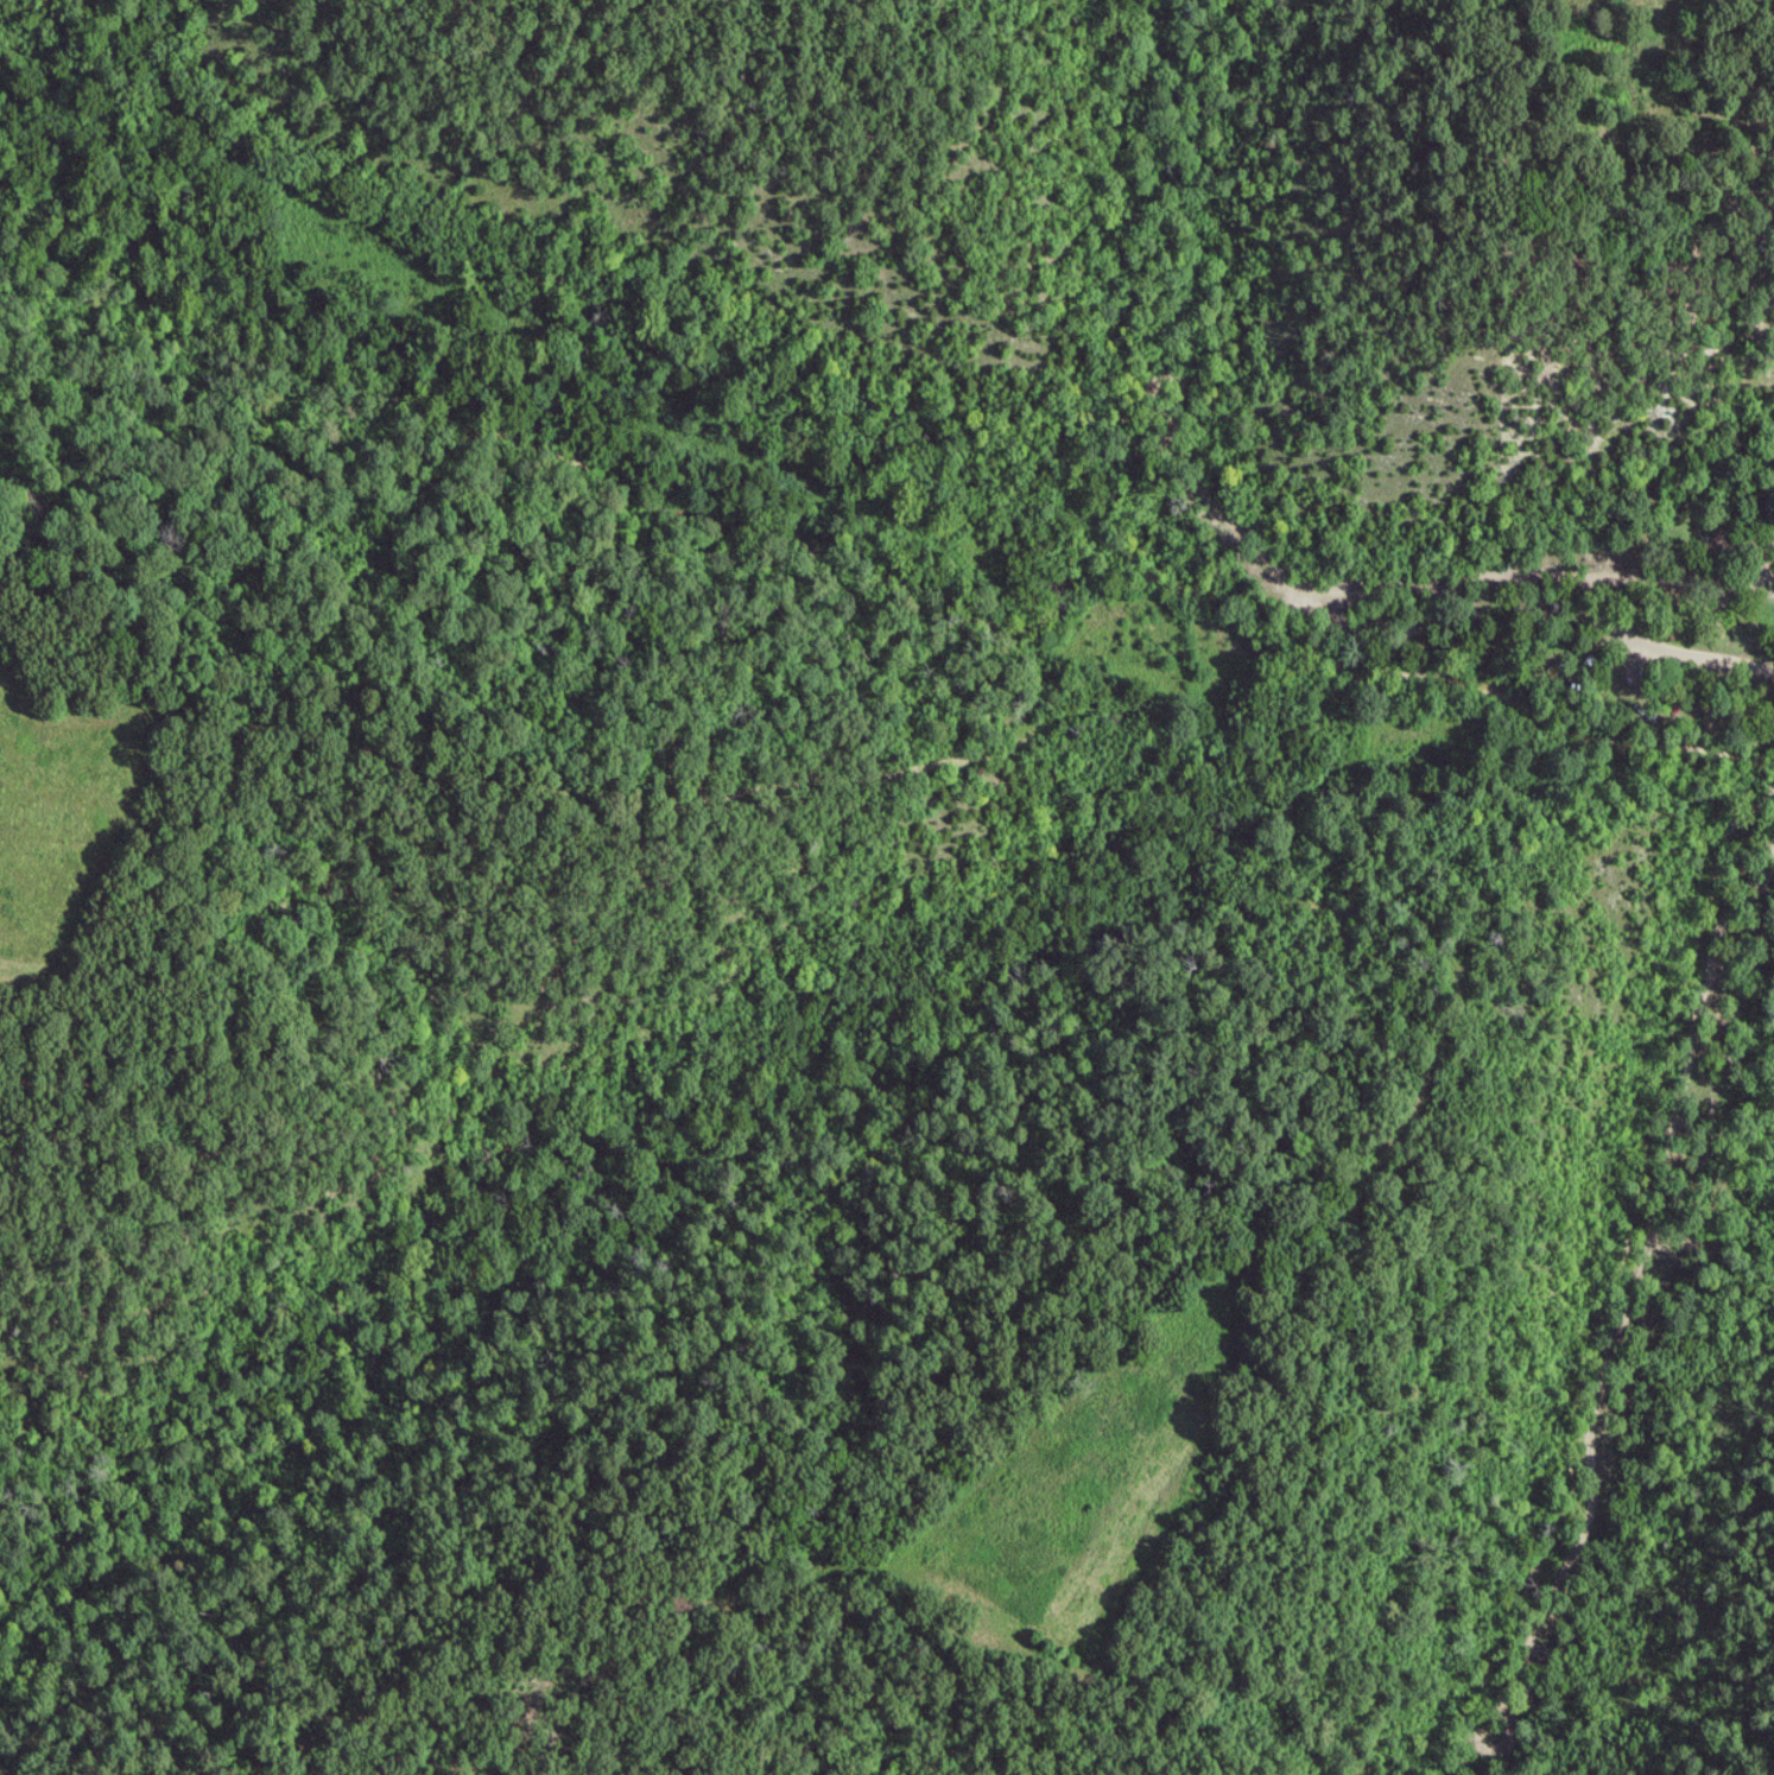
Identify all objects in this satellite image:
road: (1162, 379)
road: (1431, 601)
road: (1661, 644)

